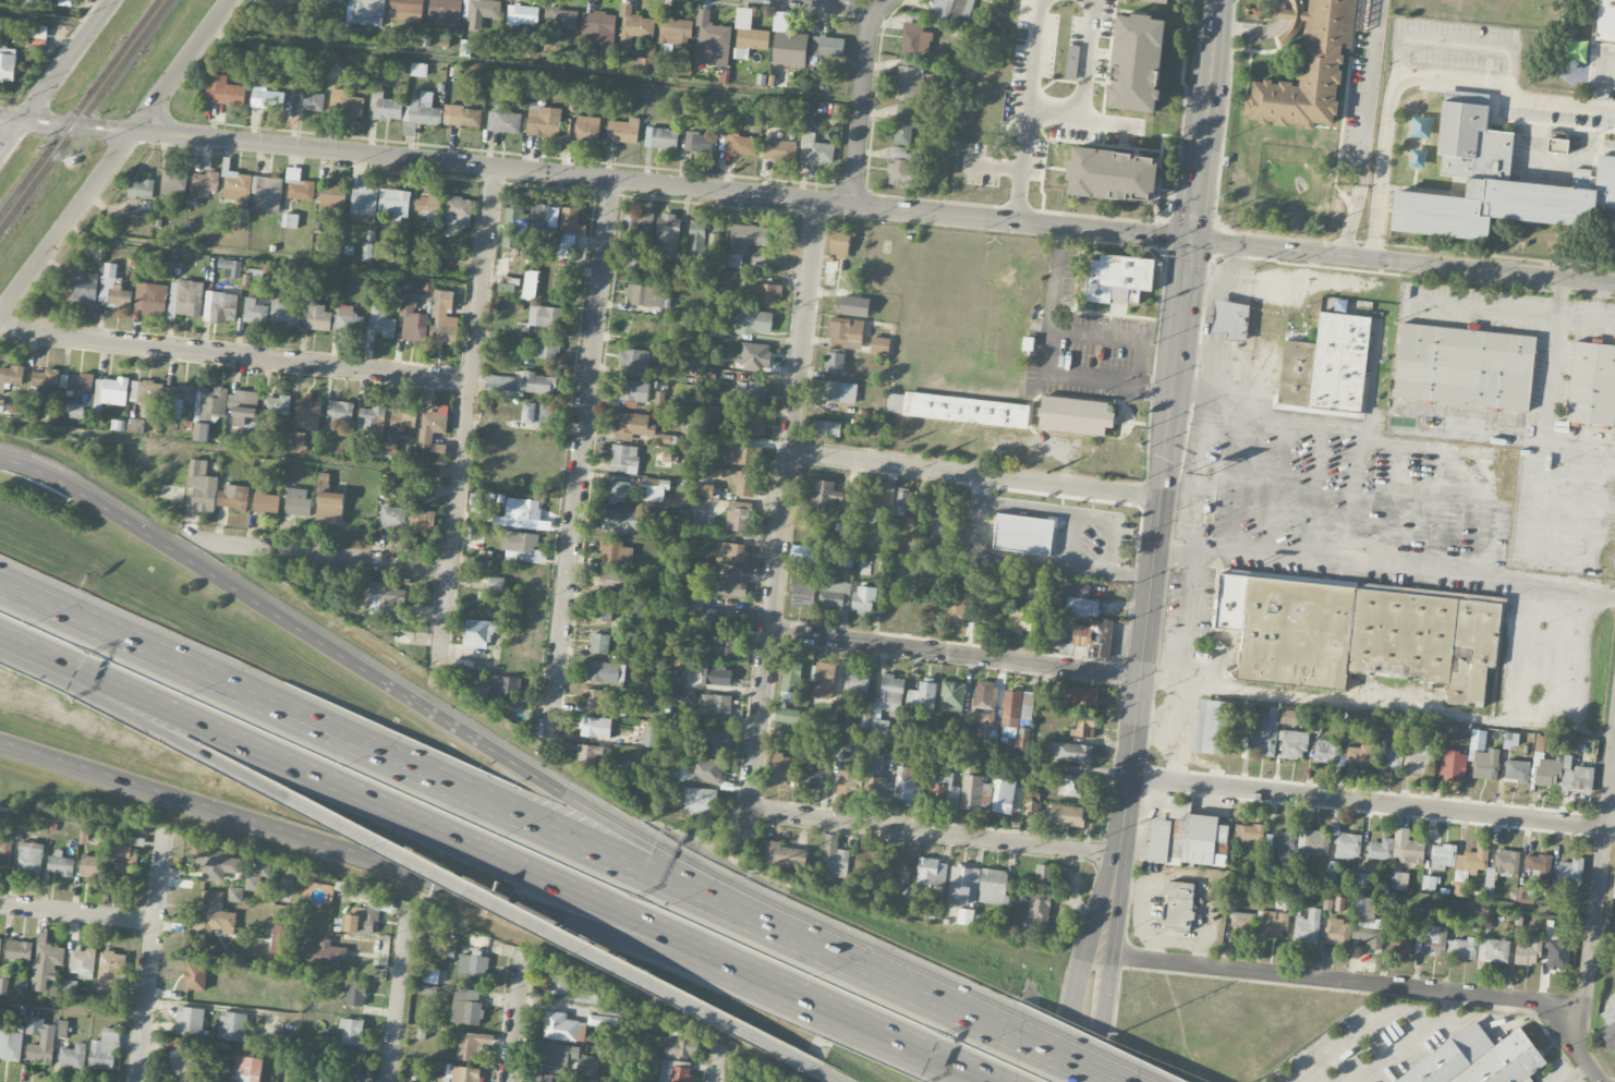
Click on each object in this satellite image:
building: (293, 1)
building: (331, 1)
building: (1156, 1)
building: (31, 3)
road: (859, 4)
building: (406, 7)
building: (951, 10)
park: (1514, 10)
building: (365, 12)
building: (445, 12)
building: (560, 19)
building: (1604, 20)
road: (45, 22)
building: (598, 27)
building: (633, 27)
road: (1261, 28)
building: (676, 31)
building: (748, 35)
building: (915, 40)
building: (712, 41)
building: (788, 44)
road: (1458, 44)
building: (827, 47)
road: (1088, 59)
building: (1071, 61)
building: (1137, 61)
building: (642, 63)
building: (8, 64)
road: (532, 69)
building: (418, 70)
road: (54, 74)
building: (1308, 74)
road: (1420, 78)
building: (912, 83)
building: (223, 92)
road: (1371, 94)
building: (267, 99)
road: (861, 99)
building: (307, 100)
building: (344, 104)
building: (385, 107)
railway: (81, 109)
road: (1029, 110)
building: (421, 114)
railway: (85, 117)
building: (462, 117)
road: (1084, 119)
building: (503, 120)
building: (544, 121)
building: (903, 125)
building: (623, 131)
building: (582, 132)
building: (661, 138)
building: (701, 143)
building: (738, 144)
building: (1557, 145)
building: (779, 149)
building: (815, 150)
road: (113, 155)
building: (903, 168)
building: (1114, 174)
building: (205, 181)
building: (173, 183)
building: (1497, 184)
building: (299, 186)
building: (238, 187)
building: (141, 189)
building: (268, 195)
building: (363, 197)
building: (332, 198)
road: (807, 199)
building: (394, 203)
building: (429, 207)
building: (458, 211)
building: (290, 221)
road: (1352, 221)
building: (538, 226)
building: (514, 227)
building: (637, 228)
building: (569, 231)
building: (667, 234)
traffic signals: (1191, 239)
building: (696, 240)
building: (713, 242)
building: (744, 242)
building: (839, 245)
building: (384, 251)
road: (268, 258)
building: (230, 268)
building: (1119, 278)
building: (85, 288)
building: (112, 288)
building: (766, 293)
building: (648, 296)
building: (150, 299)
building: (185, 299)
building: (221, 304)
building: (283, 313)
building: (317, 315)
building: (545, 316)
building: (412, 318)
building: (444, 319)
building: (1230, 319)
building: (348, 320)
building: (751, 321)
building: (381, 323)
building: (1036, 324)
building: (639, 329)
road: (1098, 336)
building: (879, 345)
building: (546, 349)
road: (233, 354)
building: (754, 355)
parking lot: (1088, 355)
building: (632, 358)
building: (835, 363)
building: (1327, 365)
building: (1464, 366)
road: (1046, 367)
building: (10, 377)
building: (46, 381)
building: (81, 384)
building: (520, 384)
building: (1592, 384)
building: (633, 391)
building: (110, 392)
building: (162, 392)
building: (751, 392)
building: (839, 392)
building: (277, 405)
building: (243, 406)
building: (7, 409)
building: (208, 409)
building: (967, 409)
building: (76, 411)
building: (340, 411)
building: (537, 413)
building: (307, 414)
building: (1074, 414)
building: (403, 417)
road: (463, 418)
building: (372, 420)
building: (632, 426)
building: (755, 427)
building: (827, 428)
building: (434, 433)
road: (1540, 436)
road: (1387, 437)
power tower: (52, 439)
building: (296, 441)
road: (229, 450)
building: (743, 455)
building: (624, 459)
road: (578, 460)
road: (975, 473)
road: (1164, 476)
road: (1238, 479)
building: (323, 481)
building: (745, 483)
road: (1276, 485)
building: (202, 487)
building: (654, 489)
road: (983, 489)
building: (704, 490)
building: (617, 491)
building: (825, 494)
building: (233, 497)
building: (876, 500)
building: (901, 501)
building: (296, 502)
road: (1003, 506)
building: (330, 507)
building: (523, 509)
road: (1052, 513)
building: (936, 514)
building: (392, 516)
building: (738, 516)
building: (696, 518)
road: (1079, 518)
building: (620, 520)
building: (422, 521)
road: (781, 522)
building: (474, 533)
building: (1023, 534)
building: (520, 546)
building: (615, 552)
building: (731, 552)
road: (323, 554)
road: (1000, 558)
road: (1385, 563)
road: (1128, 574)
building: (615, 581)
building: (969, 583)
building: (731, 584)
building: (803, 589)
building: (835, 595)
building: (384, 597)
building: (864, 599)
building: (1078, 599)
building: (958, 608)
building: (600, 612)
building: (719, 618)
building: (1020, 620)
power tower: (343, 622)
building: (478, 633)
building: (1358, 633)
road: (1189, 635)
building: (1095, 637)
building: (599, 643)
building: (721, 645)
building: (1066, 648)
road: (955, 654)
building: (606, 672)
building: (791, 676)
building: (716, 677)
building: (824, 680)
building: (857, 682)
building: (655, 683)
building: (500, 690)
building: (922, 696)
building: (952, 696)
building: (1081, 696)
building: (595, 700)
building: (887, 702)
building: (986, 702)
building: (717, 704)
road: (111, 705)
road: (430, 706)
building: (1016, 707)
road: (1419, 712)
building: (788, 716)
building: (1288, 716)
building: (864, 724)
building: (1209, 725)
building: (1082, 726)
road: (1567, 726)
building: (595, 727)
building: (1265, 731)
building: (651, 737)
building: (716, 743)
building: (1294, 743)
building: (1326, 751)
building: (1071, 752)
building: (588, 754)
building: (1358, 755)
building: (1483, 755)
building: (1392, 756)
building: (1420, 756)
building: (1454, 765)
building: (1545, 767)
building: (781, 769)
building: (1517, 769)
building: (706, 770)
building: (1576, 776)
building: (813, 777)
road: (428, 779)
building: (849, 785)
building: (909, 785)
building: (1071, 785)
building: (875, 787)
building: (973, 791)
building: (938, 794)
building: (1003, 795)
building: (701, 801)
road: (1371, 801)
road: (398, 810)
building: (1066, 815)
power tower: (649, 823)
road: (933, 831)
building: (1251, 836)
building: (1187, 838)
building: (1282, 841)
building: (1313, 841)
building: (1348, 844)
building: (1380, 848)
building: (1408, 848)
building: (4, 852)
building: (1443, 855)
building: (782, 856)
building: (29, 858)
building: (123, 858)
building: (834, 858)
building: (61, 864)
building: (864, 864)
building: (1538, 864)
building: (216, 865)
building: (1503, 865)
building: (899, 866)
building: (92, 867)
building: (1468, 867)
building: (262, 868)
road: (396, 868)
building: (931, 872)
building: (1043, 873)
building: (1569, 874)
road: (159, 875)
building: (1399, 880)
building: (1614, 880)
building: (1430, 883)
building: (963, 886)
building: (993, 886)
building: (1179, 889)
building: (1525, 895)
road: (1599, 895)
building: (873, 896)
building: (1336, 903)
building: (1039, 910)
road: (76, 911)
building: (212, 914)
building: (1177, 914)
road: (522, 915)
building: (362, 921)
building: (1241, 922)
building: (1367, 922)
building: (1273, 924)
building: (1307, 926)
building: (1337, 932)
building: (1402, 938)
building: (281, 940)
building: (0, 941)
building: (1445, 943)
building: (19, 950)
building: (1493, 950)
building: (1528, 952)
building: (323, 955)
building: (45, 962)
building: (83, 963)
building: (474, 964)
building: (110, 972)
building: (430, 975)
building: (196, 977)
building: (22, 984)
building: (559, 984)
road: (1372, 984)
building: (355, 993)
building: (585, 996)
road: (145, 1000)
road: (396, 1000)
building: (466, 1006)
road: (943, 1010)
road: (514, 1016)
road: (1090, 1017)
road: (1373, 1017)
building: (190, 1021)
building: (1610, 1025)
building: (232, 1026)
building: (562, 1028)
building: (62, 1029)
building: (351, 1032)
power tower: (1117, 1034)
road: (894, 1036)
building: (40, 1041)
building: (471, 1044)
building: (174, 1045)
building: (10, 1046)
building: (682, 1048)
building: (105, 1050)
building: (72, 1056)
building: (582, 1059)
building: (1478, 1059)
road: (716, 1063)
road: (1064, 1066)
building: (183, 1068)
building: (246, 1069)
building: (676, 1072)
road: (1578, 1073)
building: (454, 1074)
road: (833, 1075)
building: (548, 1078)

